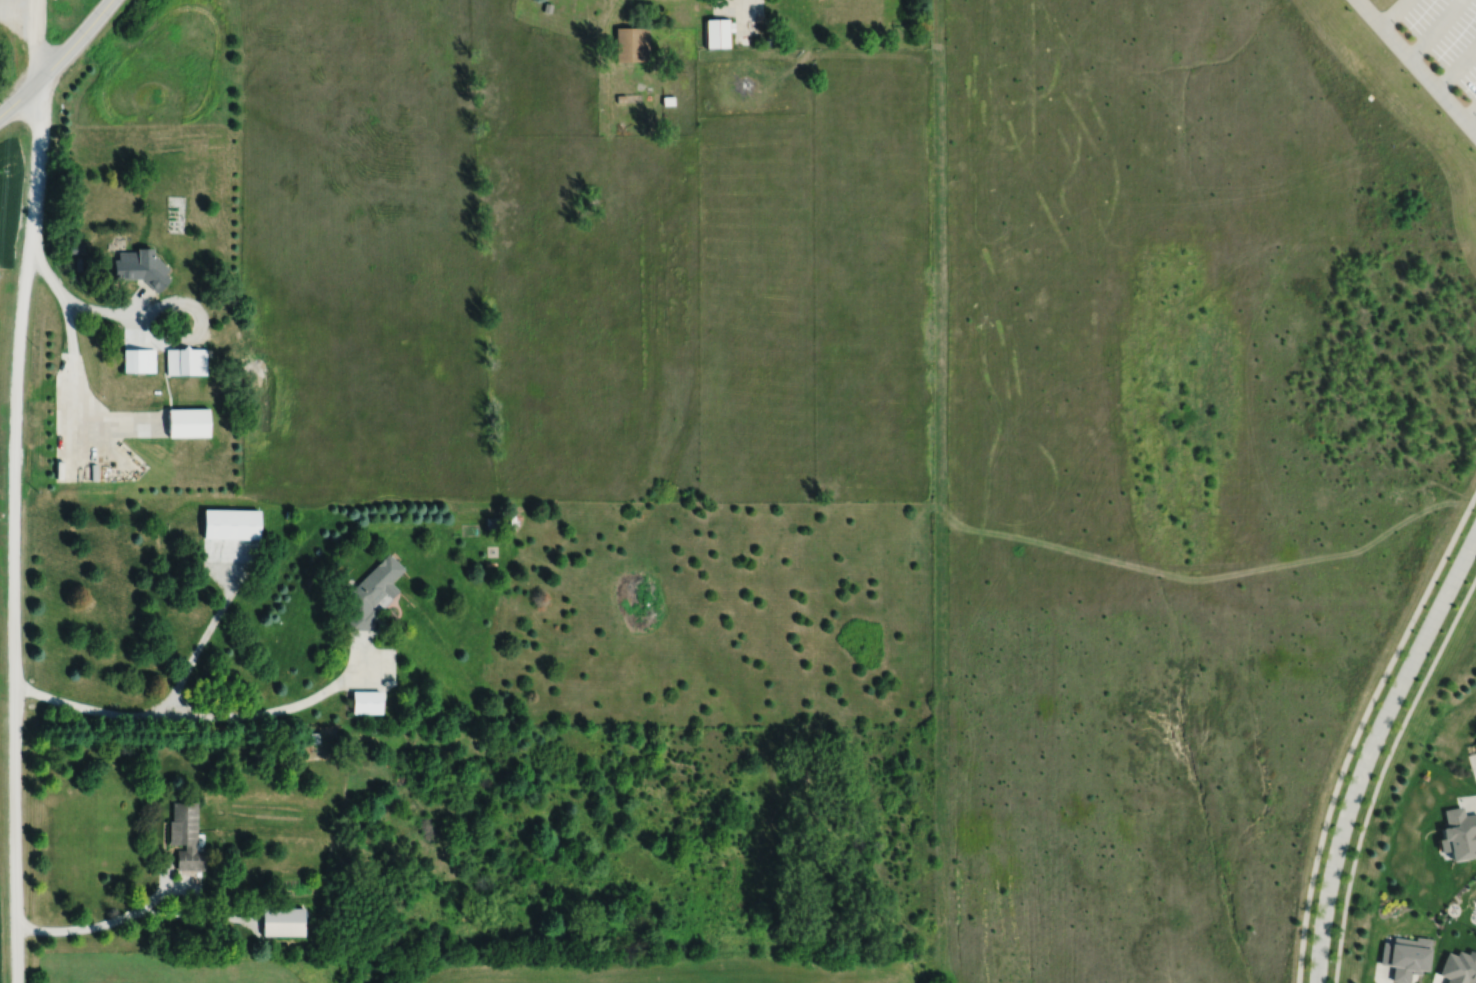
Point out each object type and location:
road: (719, 5)
road: (1369, 12)
road: (1394, 12)
road: (758, 15)
road: (1437, 29)
building: (716, 32)
parking lot: (1446, 35)
building: (631, 43)
road: (57, 57)
road: (1457, 70)
road: (1428, 78)
road: (1471, 114)
road: (74, 297)
road: (10, 490)
building: (232, 524)
building: (364, 601)
road: (205, 631)
building: (367, 701)
road: (190, 711)
road: (1360, 728)
road: (1370, 749)
road: (1382, 774)
building: (1457, 833)
building: (187, 834)
building: (284, 921)
road: (95, 923)
building: (1404, 956)
building: (1459, 967)

